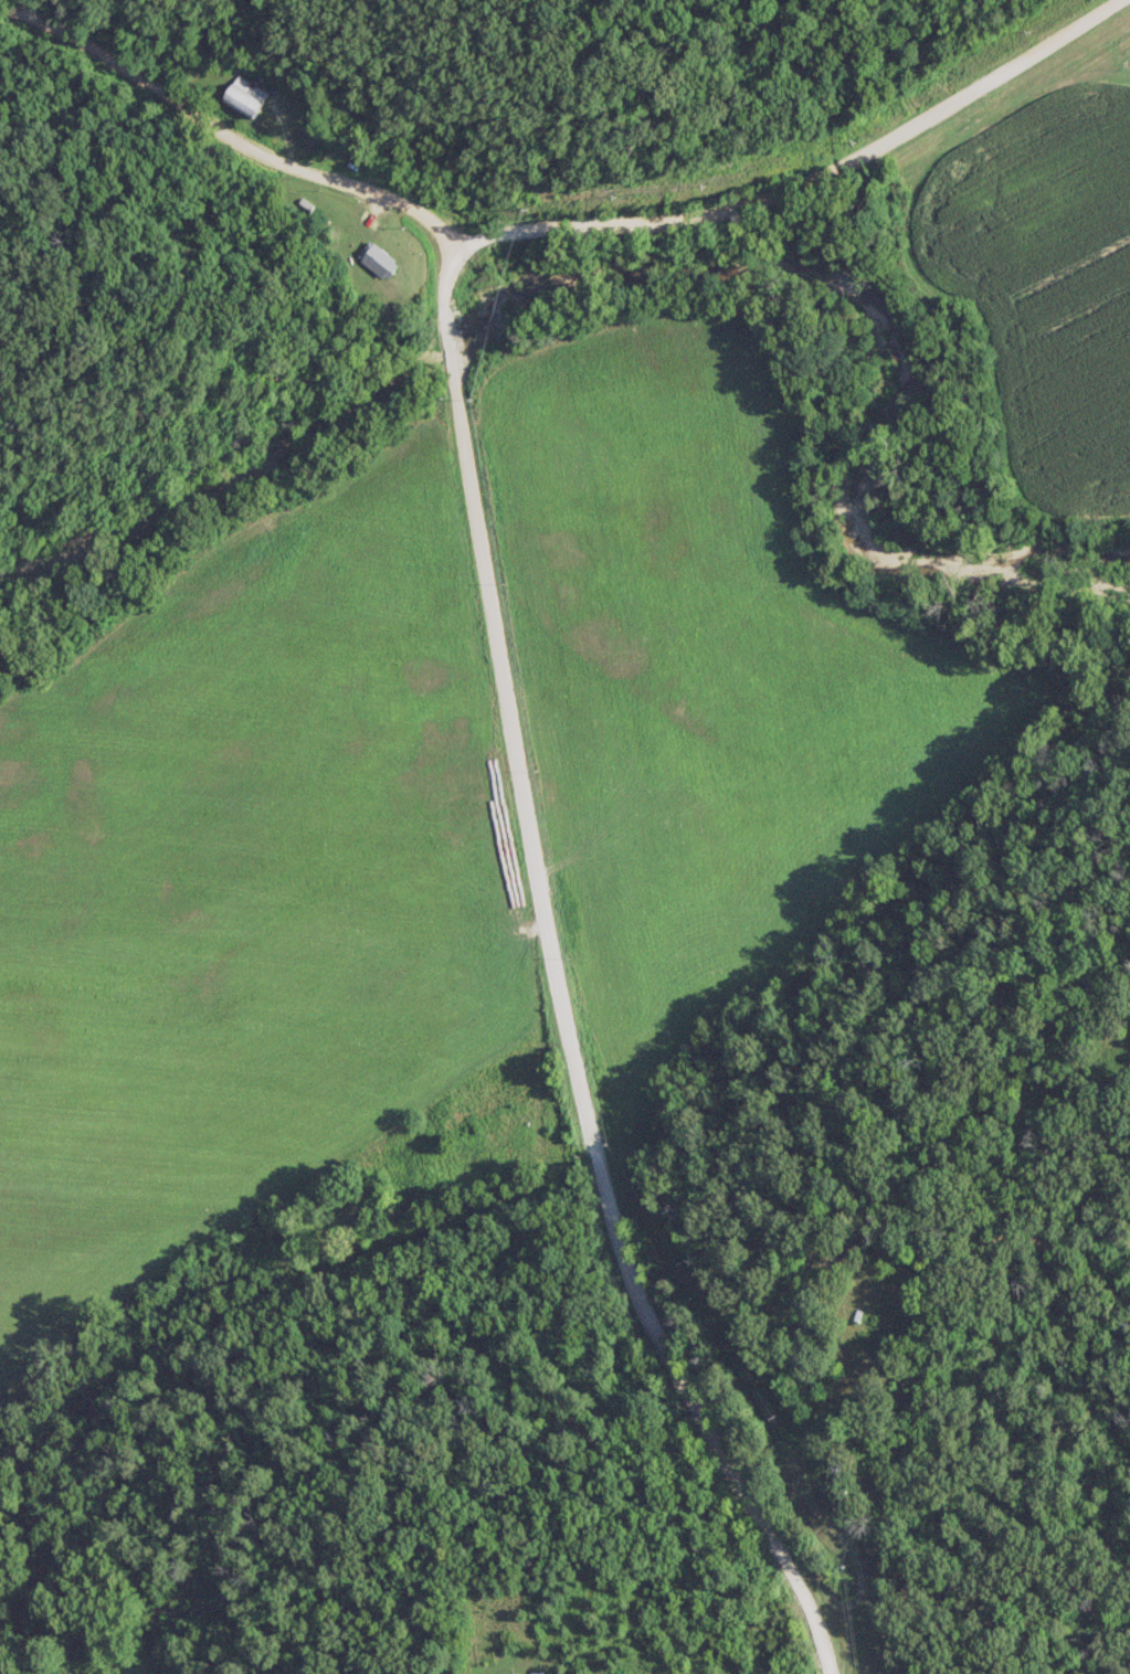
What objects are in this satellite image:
building: (244, 96)
road: (235, 117)
road: (791, 177)
building: (377, 259)
road: (444, 293)
road: (568, 1034)

